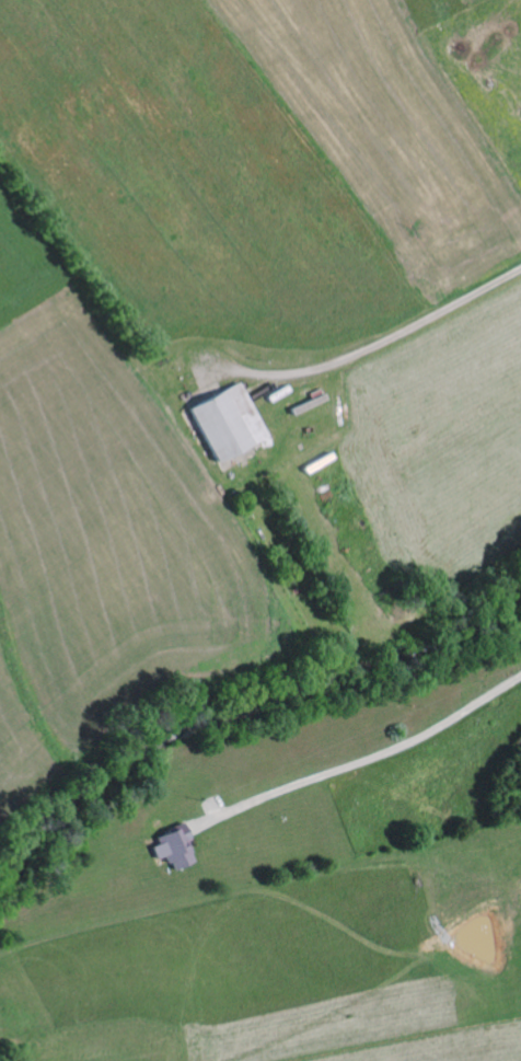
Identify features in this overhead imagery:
road: (398, 327)
building: (225, 423)
building: (173, 846)

